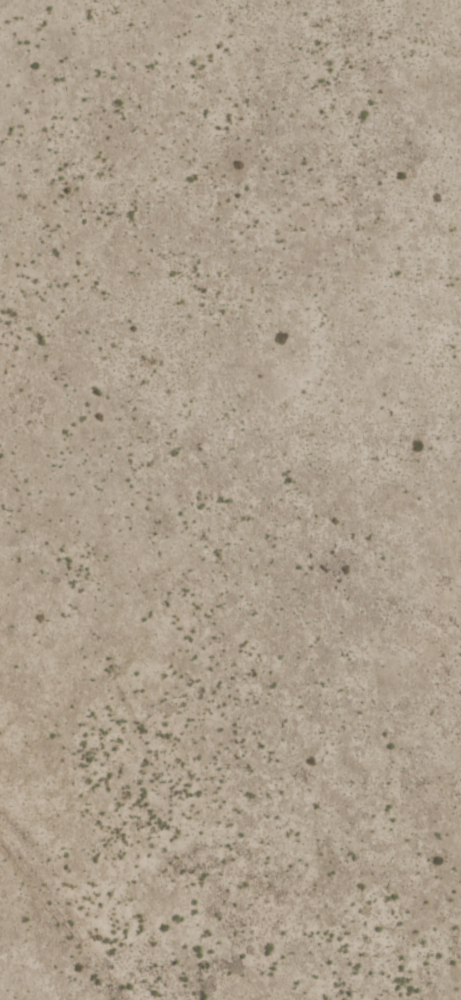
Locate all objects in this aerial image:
road: (42, 942)

